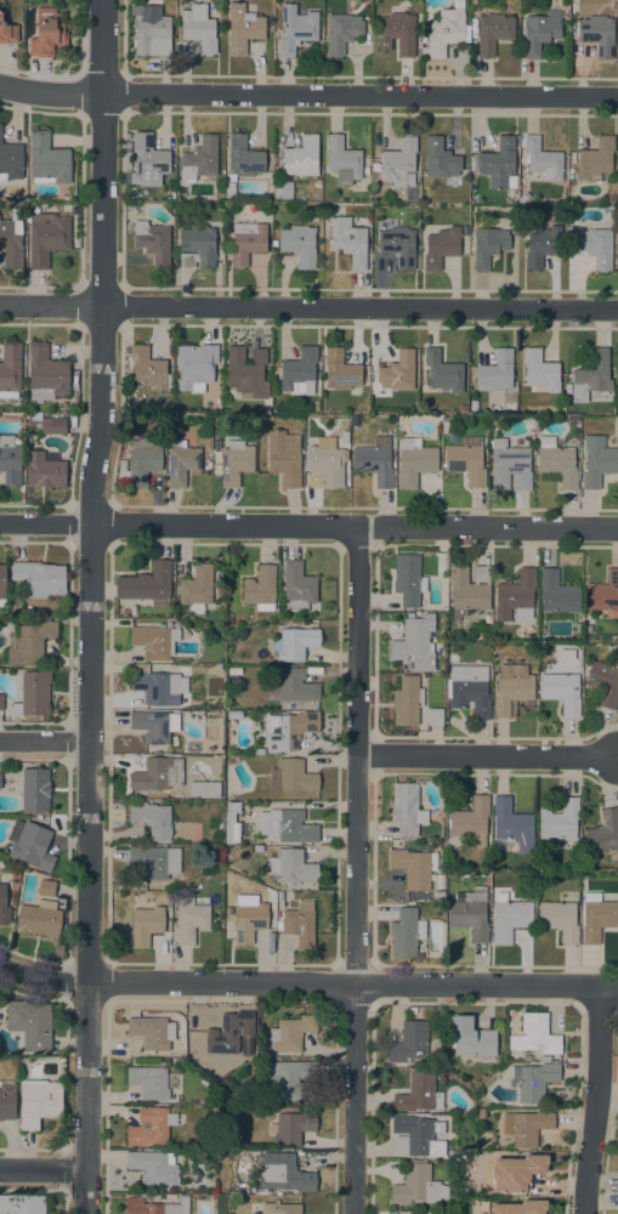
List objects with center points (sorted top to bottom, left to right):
building: (198, 28)
building: (242, 28)
building: (296, 29)
building: (447, 30)
building: (341, 32)
building: (540, 32)
building: (7, 33)
building: (47, 33)
building: (152, 33)
building: (396, 33)
building: (493, 33)
building: (597, 34)
road: (308, 95)
building: (243, 157)
building: (301, 157)
building: (11, 159)
building: (200, 159)
building: (440, 159)
building: (595, 159)
building: (47, 160)
building: (144, 160)
building: (542, 160)
building: (342, 161)
building: (398, 163)
building: (499, 164)
building: (317, 183)
building: (283, 189)
building: (172, 191)
building: (523, 198)
building: (611, 198)
building: (46, 238)
building: (11, 240)
building: (152, 242)
building: (246, 242)
building: (348, 242)
building: (199, 243)
building: (299, 245)
building: (398, 245)
building: (488, 245)
building: (542, 246)
building: (595, 246)
building: (441, 248)
building: (187, 260)
road: (51, 305)
road: (359, 307)
building: (194, 364)
building: (147, 368)
building: (10, 370)
building: (340, 370)
building: (299, 371)
building: (398, 371)
building: (495, 371)
building: (540, 371)
building: (246, 373)
building: (443, 373)
building: (45, 375)
building: (590, 376)
building: (463, 408)
building: (265, 418)
building: (353, 421)
building: (47, 422)
building: (446, 427)
building: (345, 437)
building: (284, 458)
building: (141, 460)
building: (466, 460)
building: (10, 461)
building: (414, 461)
building: (597, 461)
building: (181, 463)
building: (236, 463)
building: (556, 463)
building: (374, 464)
building: (121, 465)
building: (509, 466)
building: (324, 467)
building: (45, 469)
road: (308, 524)
building: (39, 579)
building: (409, 580)
building: (1, 582)
building: (147, 584)
building: (299, 586)
building: (195, 589)
building: (260, 589)
building: (220, 590)
building: (469, 590)
building: (557, 594)
building: (603, 595)
building: (516, 596)
road: (89, 606)
building: (129, 611)
building: (19, 612)
building: (488, 619)
building: (228, 622)
building: (589, 629)
building: (586, 639)
building: (155, 641)
building: (32, 643)
building: (294, 643)
building: (415, 643)
building: (605, 681)
building: (154, 686)
building: (293, 687)
building: (511, 688)
building: (470, 690)
building: (561, 692)
building: (33, 694)
building: (406, 702)
building: (1, 703)
building: (234, 715)
building: (435, 717)
building: (153, 726)
building: (288, 730)
road: (44, 741)
building: (257, 751)
road: (487, 755)
building: (158, 773)
building: (291, 776)
building: (204, 789)
building: (33, 790)
building: (172, 796)
building: (407, 809)
building: (152, 819)
building: (470, 821)
building: (559, 821)
building: (232, 823)
building: (287, 826)
building: (511, 827)
building: (605, 835)
building: (30, 844)
building: (155, 862)
building: (291, 866)
building: (414, 867)
road: (355, 869)
building: (46, 887)
building: (279, 896)
building: (4, 906)
building: (470, 914)
building: (596, 917)
building: (509, 918)
building: (39, 919)
building: (559, 920)
building: (189, 921)
building: (249, 921)
building: (300, 924)
building: (146, 925)
building: (406, 934)
road: (307, 983)
building: (30, 1025)
building: (291, 1032)
building: (152, 1033)
building: (194, 1036)
building: (534, 1036)
building: (231, 1037)
building: (474, 1038)
building: (409, 1042)
building: (194, 1044)
building: (526, 1057)
building: (544, 1059)
building: (290, 1079)
building: (532, 1080)
building: (148, 1082)
building: (418, 1094)
building: (7, 1099)
road: (595, 1100)
building: (39, 1102)
building: (151, 1127)
building: (526, 1127)
building: (291, 1128)
building: (416, 1136)
building: (449, 1153)
building: (154, 1167)
road: (42, 1169)
building: (284, 1173)
building: (516, 1173)
building: (418, 1185)
building: (171, 1190)
building: (152, 1198)
building: (22, 1204)
building: (155, 1207)
building: (520, 1207)
building: (279, 1208)

